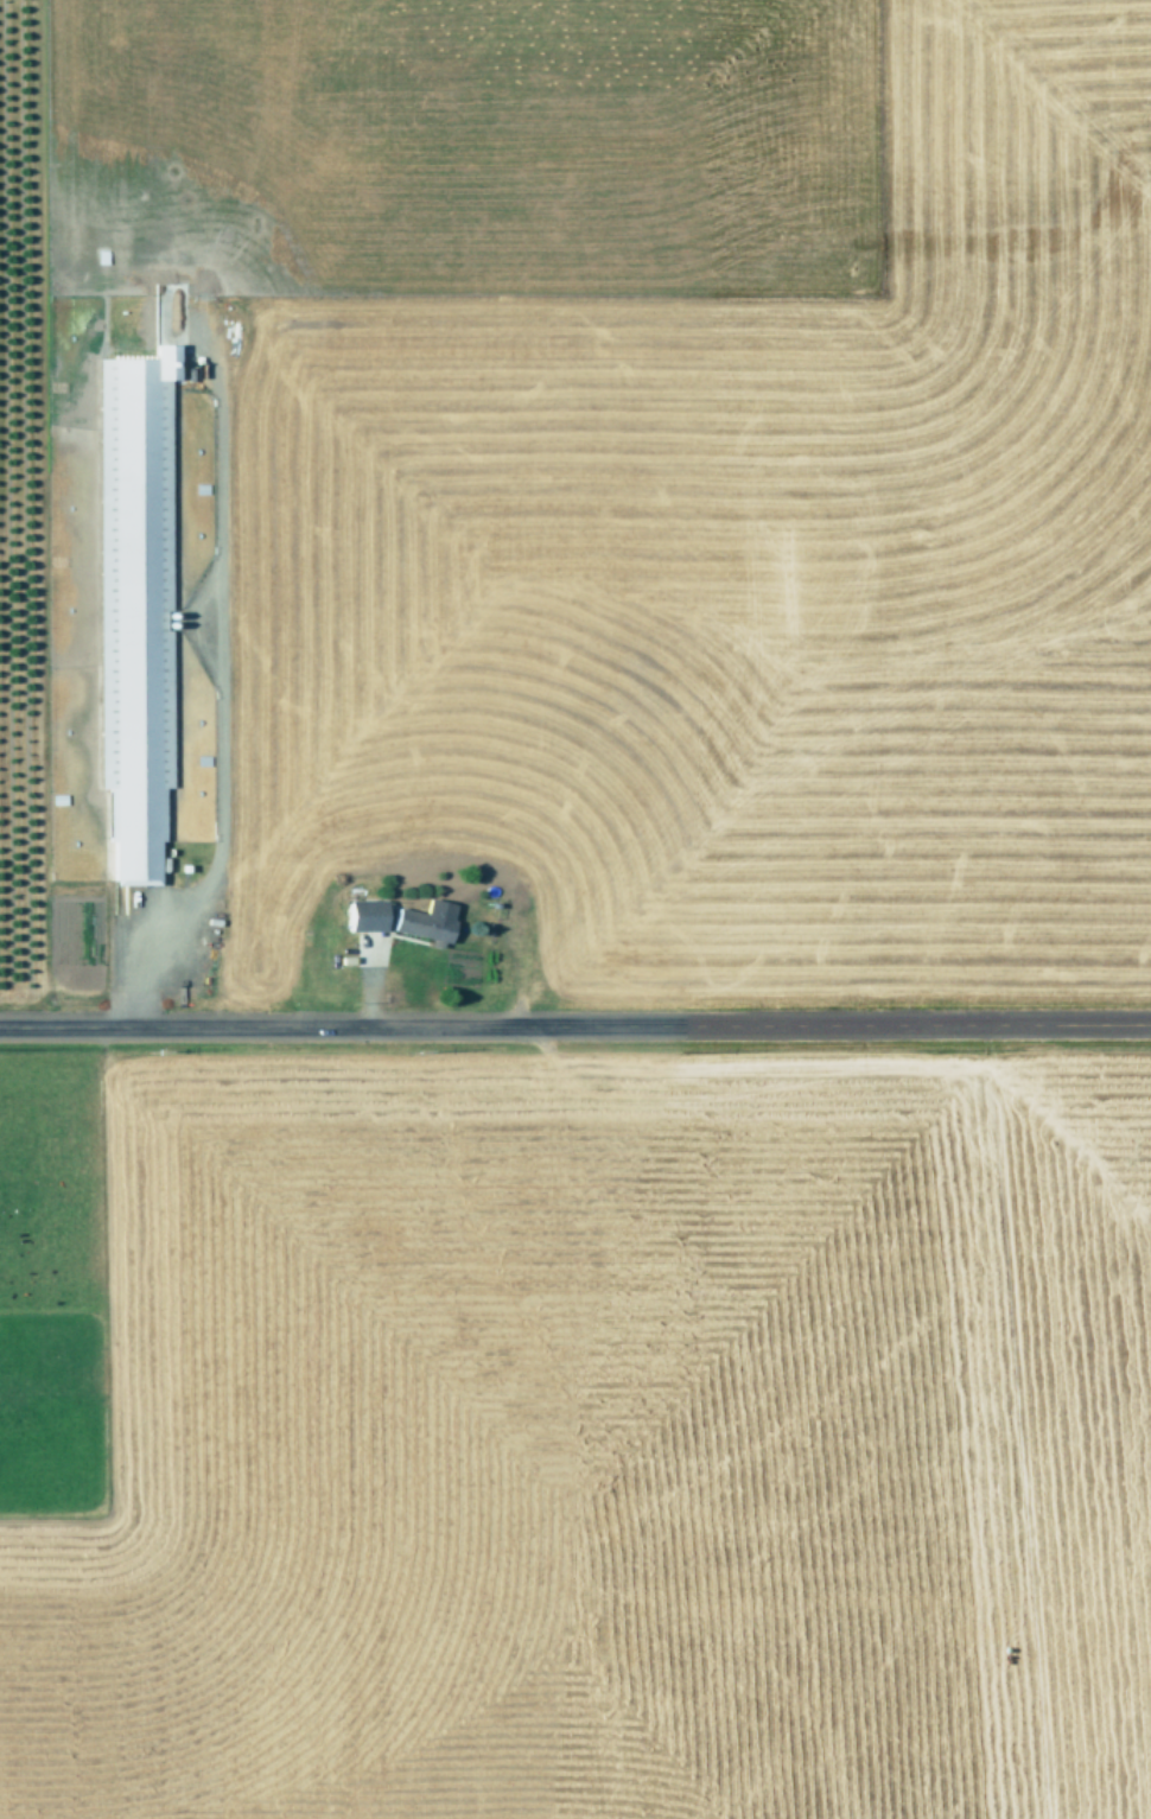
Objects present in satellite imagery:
building: (134, 606)
crop: (575, 909)
building: (367, 916)
building: (427, 921)
road: (575, 1030)

